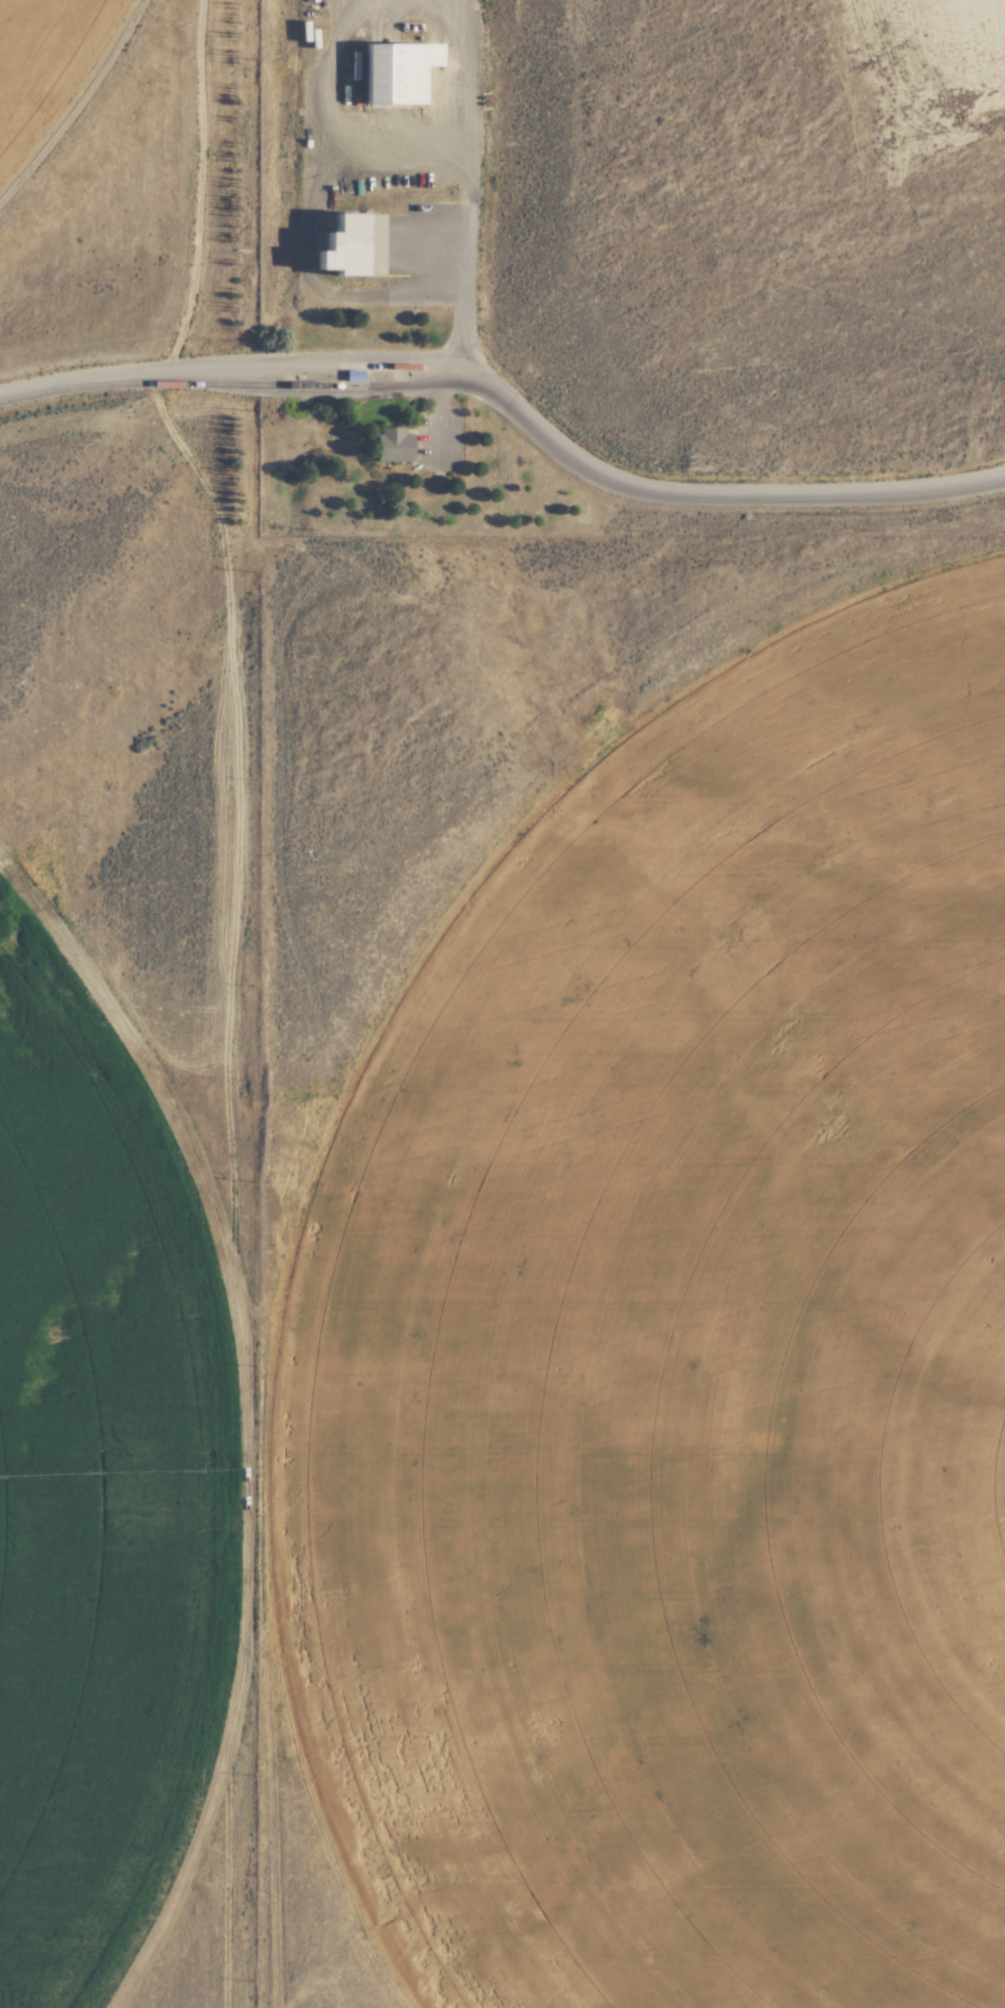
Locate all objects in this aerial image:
building: (389, 72)
crop: (75, 101)
building: (333, 245)
building: (391, 446)
crop: (712, 1402)
crop: (131, 1494)

